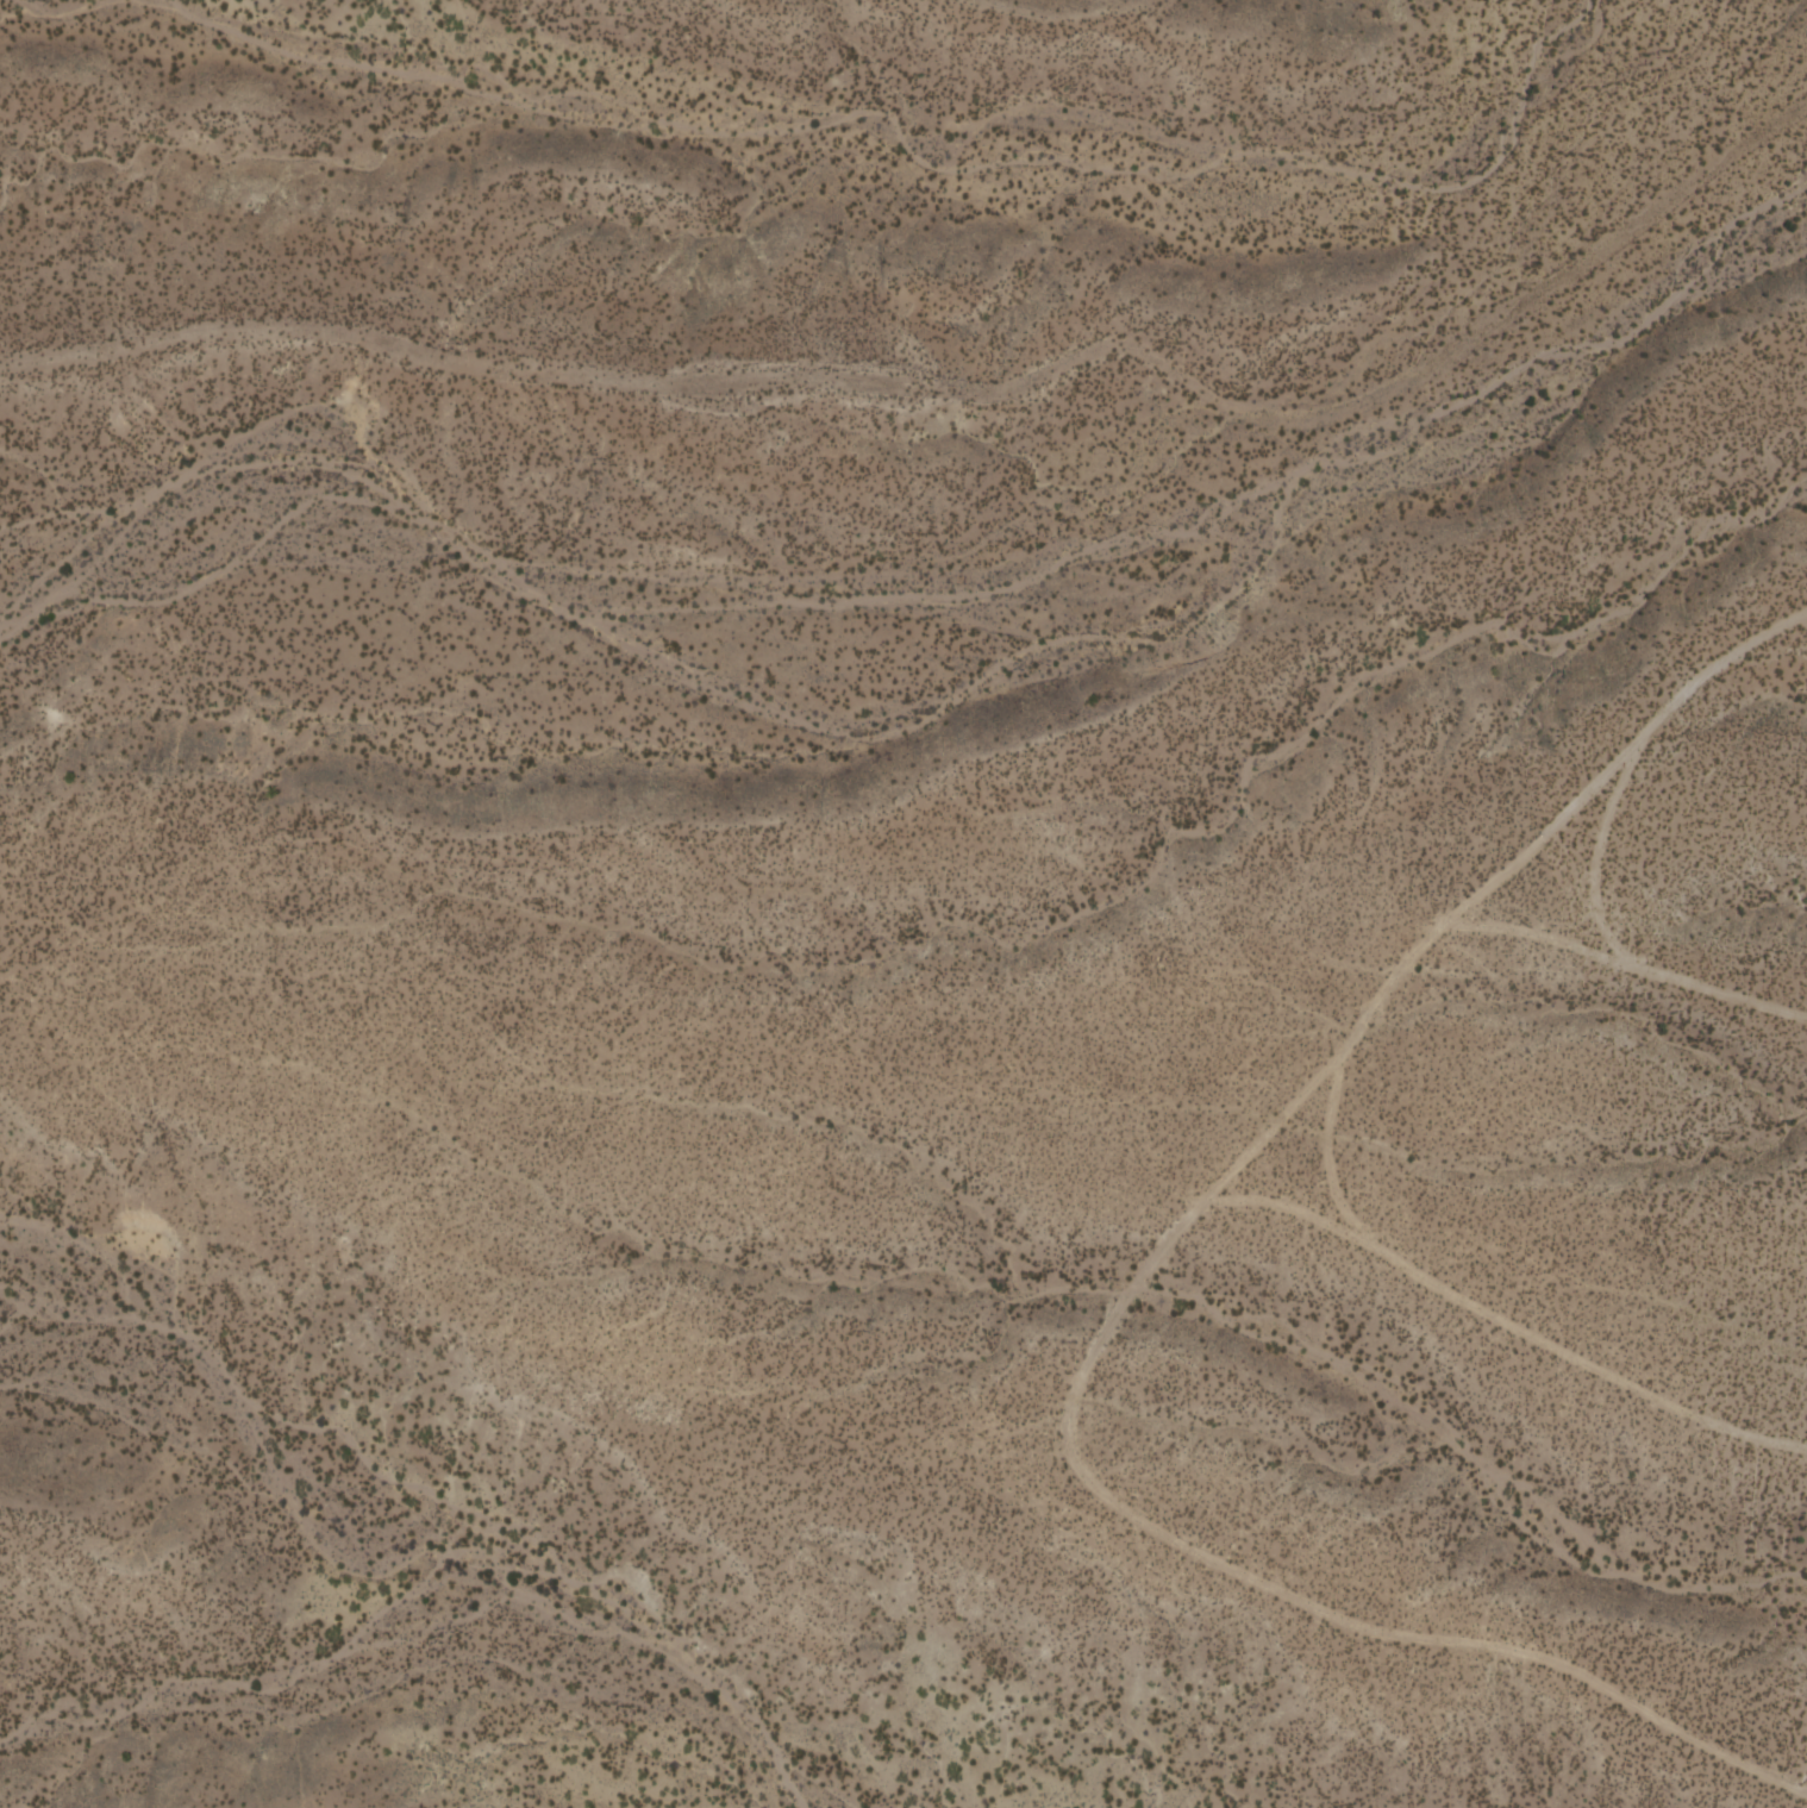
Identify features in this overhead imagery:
road: (1633, 750)
road: (1539, 836)
road: (1445, 925)
road: (1269, 1124)
road: (1075, 1391)

